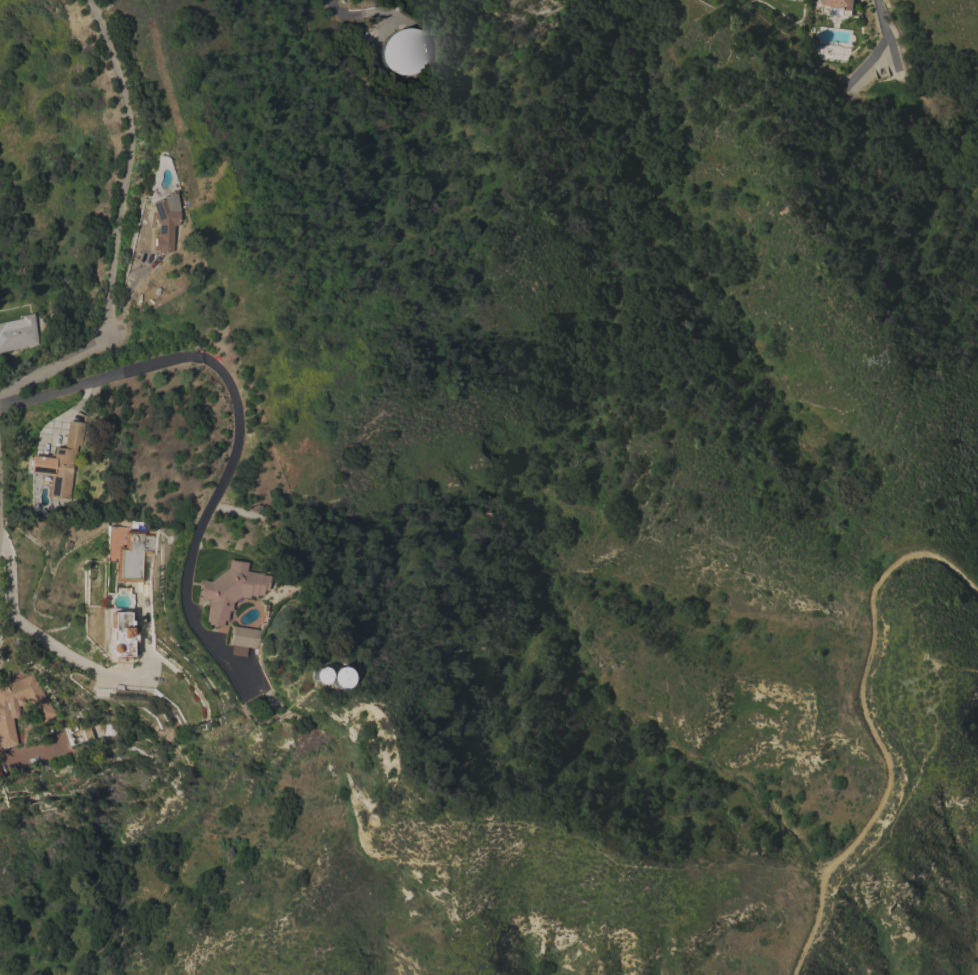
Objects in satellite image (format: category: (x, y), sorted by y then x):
building: (839, 4)
building: (404, 51)
road: (129, 165)
building: (164, 225)
building: (17, 333)
road: (55, 365)
road: (239, 425)
building: (61, 461)
building: (133, 555)
building: (229, 590)
building: (121, 635)
road: (40, 638)
building: (242, 640)
building: (314, 675)
building: (335, 677)
building: (43, 710)
road: (875, 731)
building: (76, 734)

